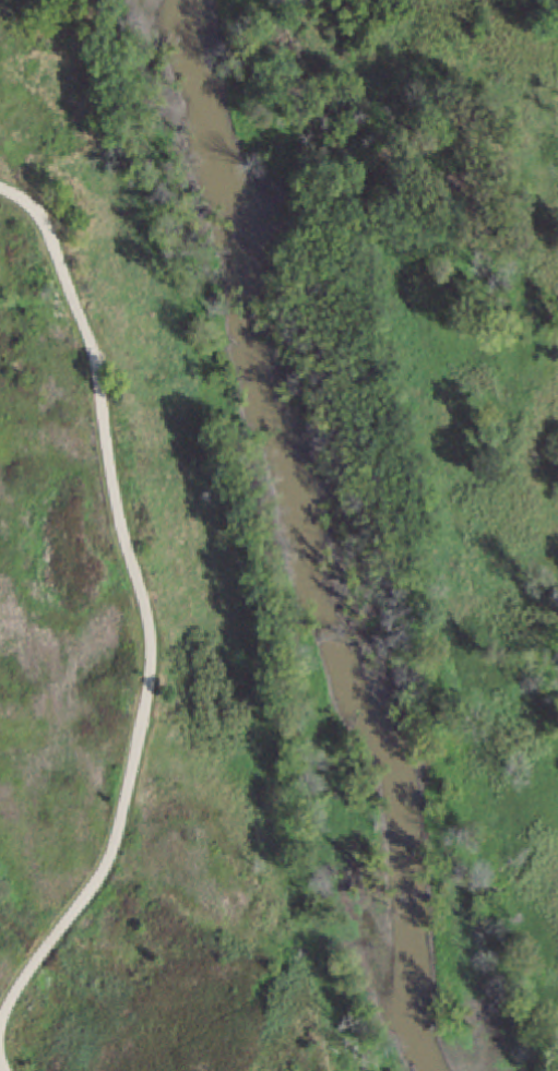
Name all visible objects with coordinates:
river: (320, 535)
road: (143, 605)
road: (1, 1064)

